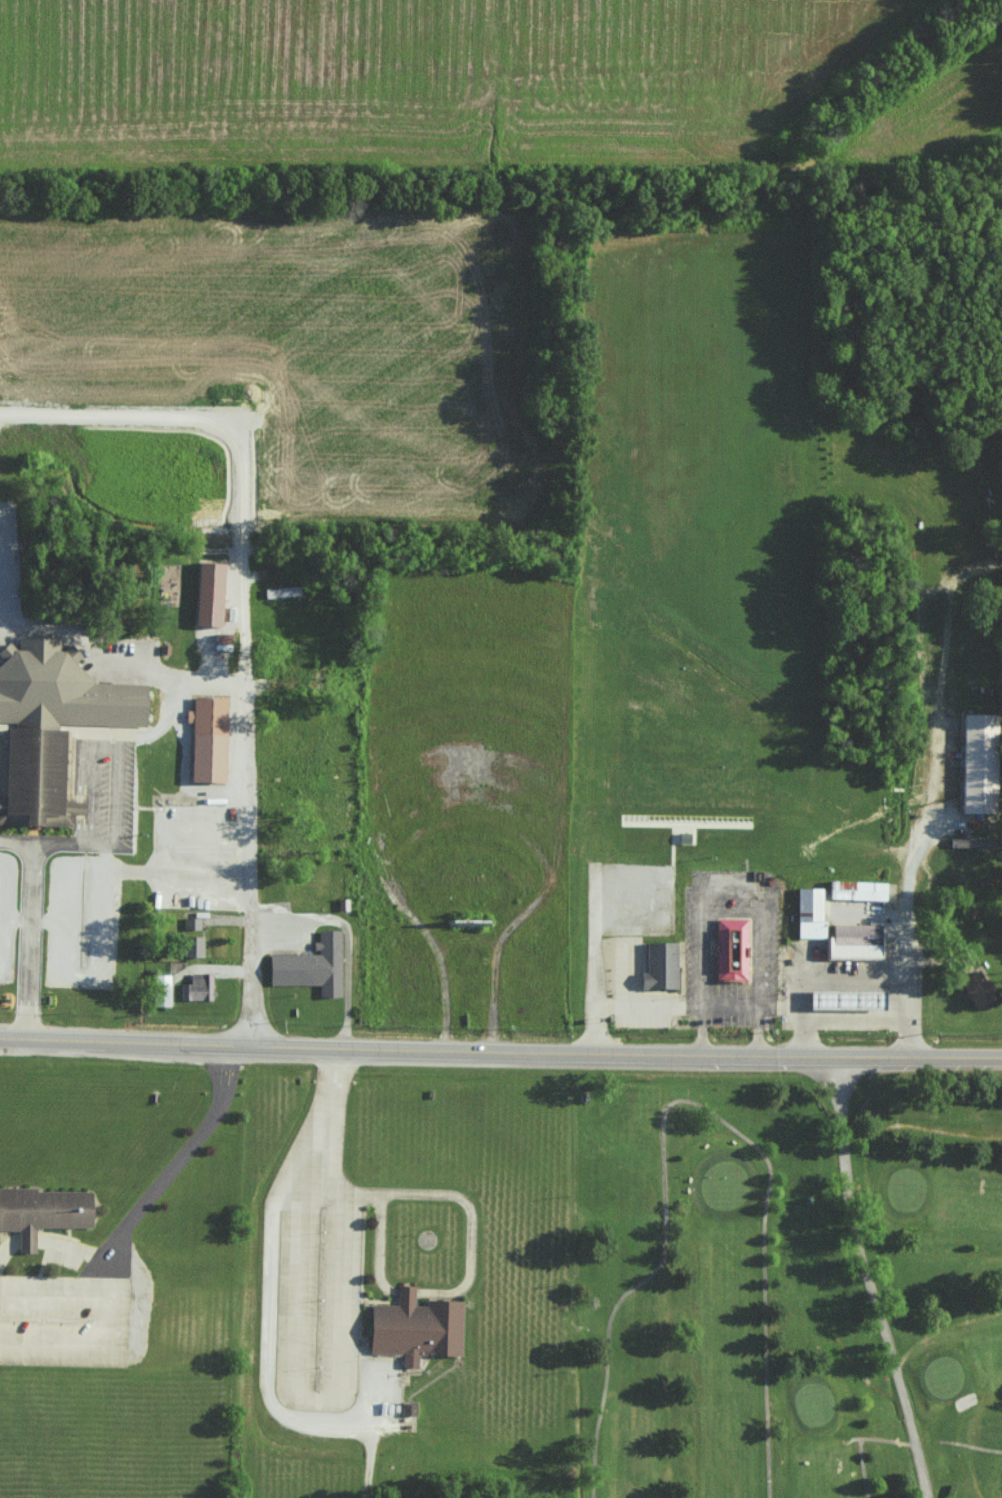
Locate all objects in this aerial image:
building: (282, 591)
building: (212, 595)
building: (226, 639)
building: (166, 650)
road: (125, 668)
road: (205, 679)
building: (53, 726)
building: (210, 740)
road: (935, 752)
parking lot: (3, 753)
building: (979, 762)
parking lot: (116, 796)
road: (114, 832)
building: (972, 842)
road: (15, 844)
parking lot: (197, 854)
road: (246, 859)
road: (162, 871)
building: (857, 889)
building: (810, 912)
parking lot: (8, 915)
road: (47, 922)
parking lot: (83, 922)
building: (192, 923)
road: (348, 935)
road: (28, 940)
building: (193, 946)
building: (855, 949)
building: (734, 951)
building: (663, 966)
building: (313, 967)
road: (65, 973)
road: (854, 979)
building: (198, 987)
building: (977, 988)
building: (162, 990)
building: (850, 1000)
road: (471, 1048)
road: (973, 1052)
road: (918, 1125)
road: (741, 1135)
road: (170, 1172)
road: (846, 1184)
road: (278, 1196)
building: (43, 1212)
road: (51, 1241)
road: (921, 1256)
road: (867, 1275)
park: (796, 1281)
parking lot: (64, 1321)
road: (104, 1322)
building: (418, 1329)
road: (938, 1329)
building: (408, 1408)
road: (597, 1432)
road: (859, 1439)
road: (926, 1439)
road: (969, 1444)
park: (16, 1468)

